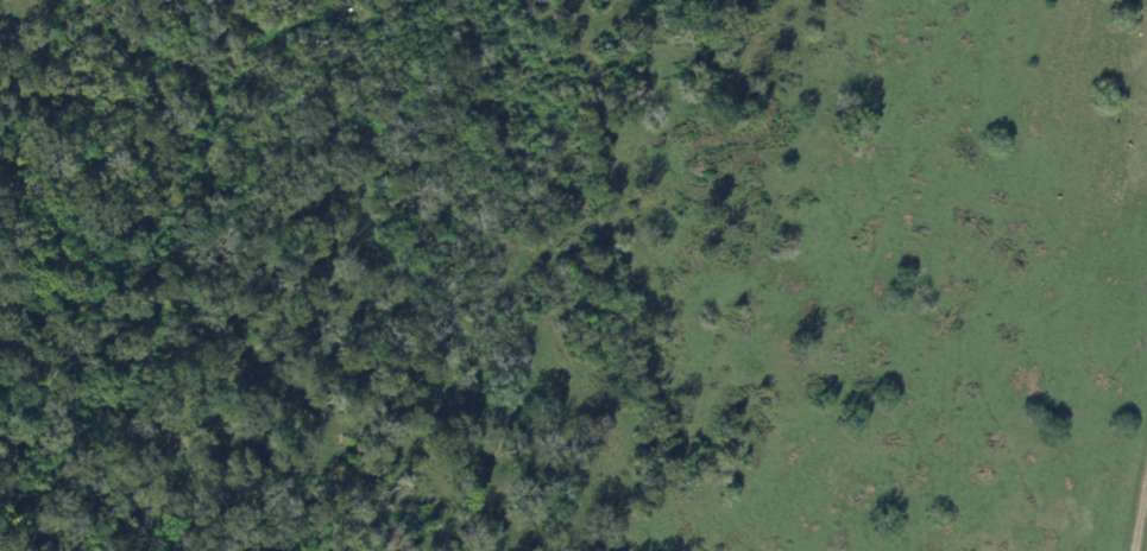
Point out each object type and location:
road: (1143, 533)

